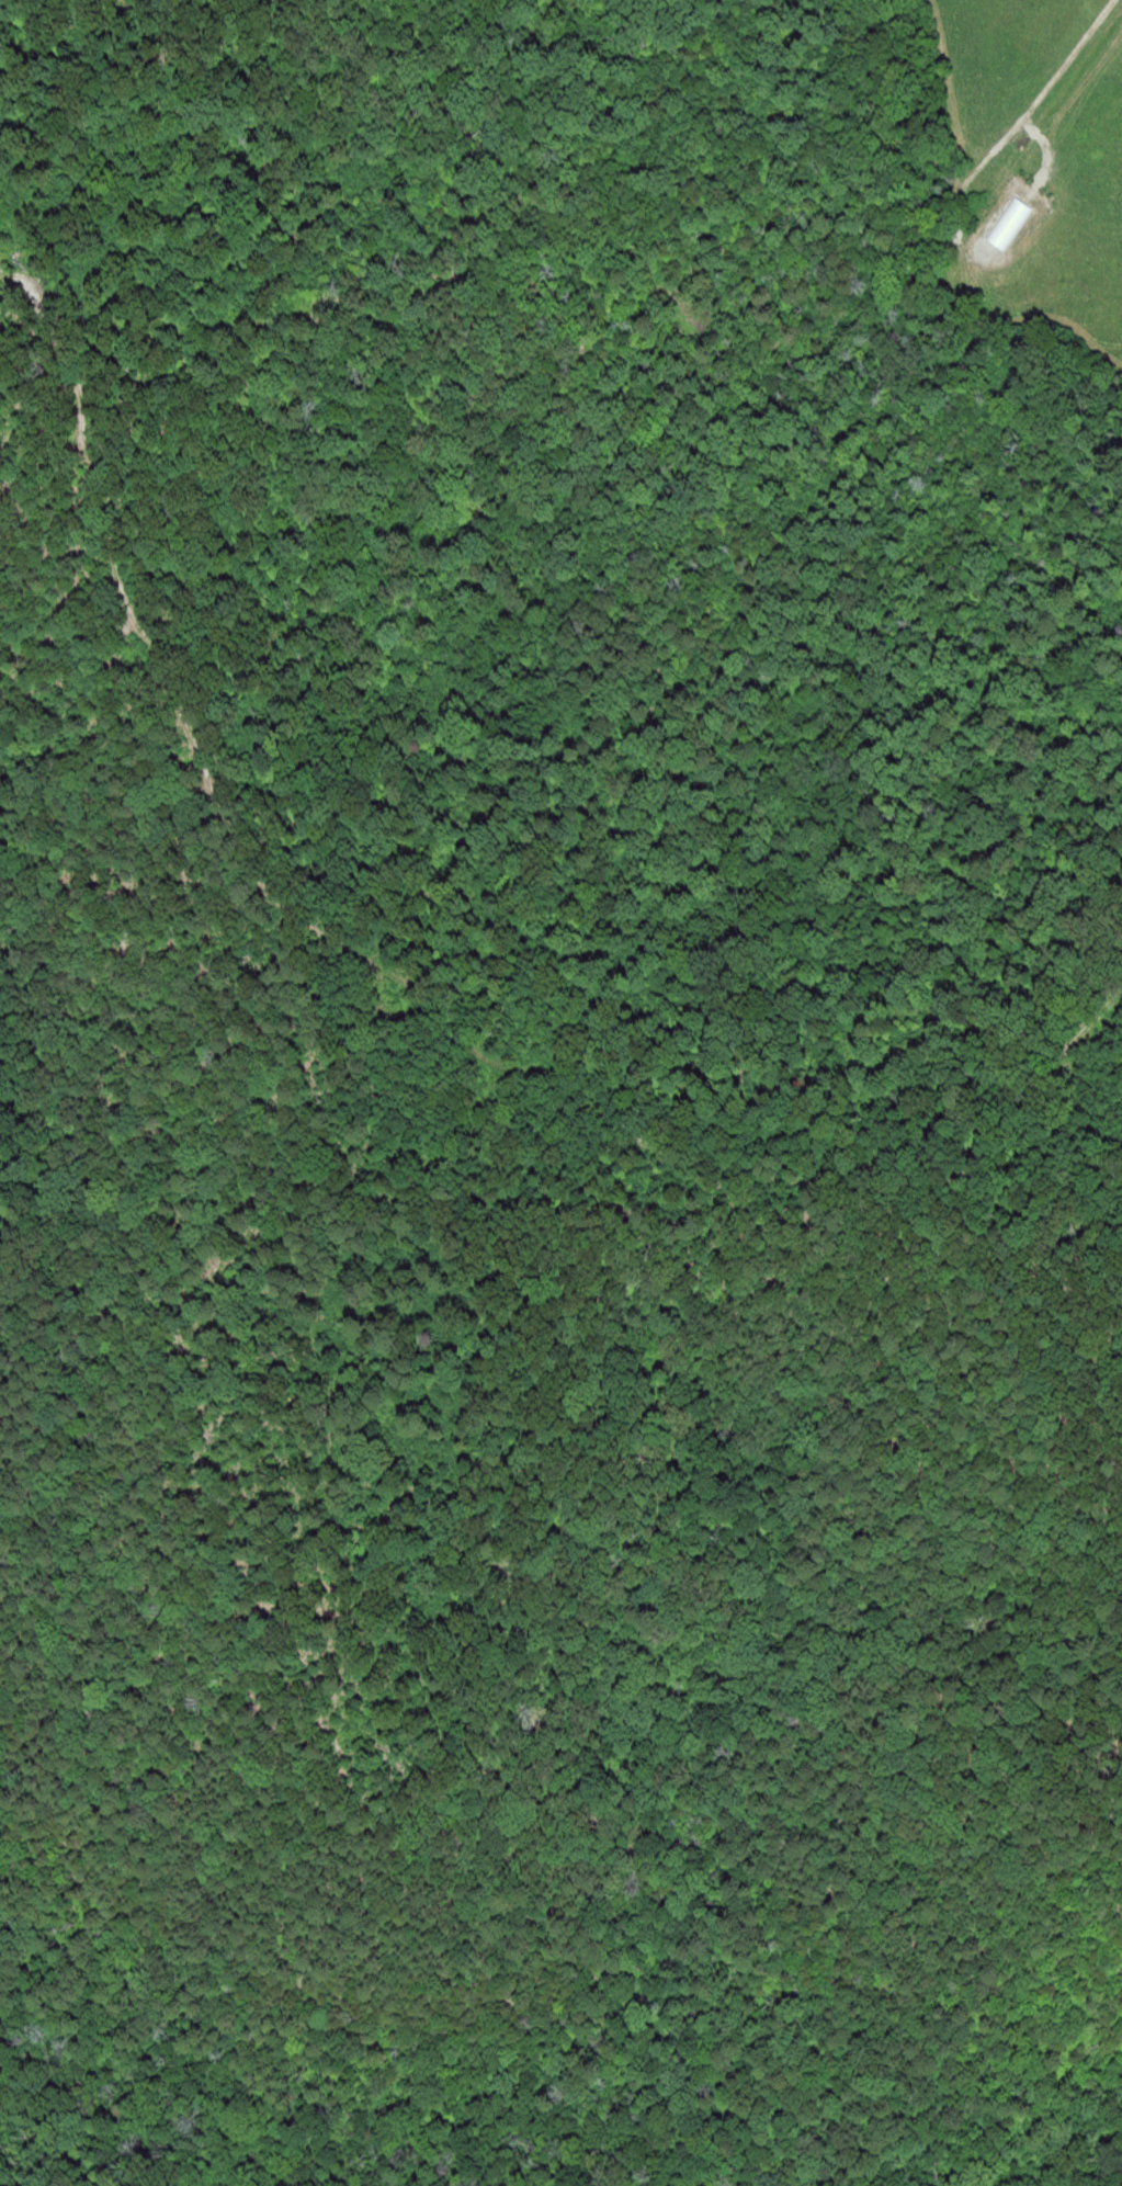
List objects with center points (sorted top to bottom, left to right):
building: (1017, 222)

